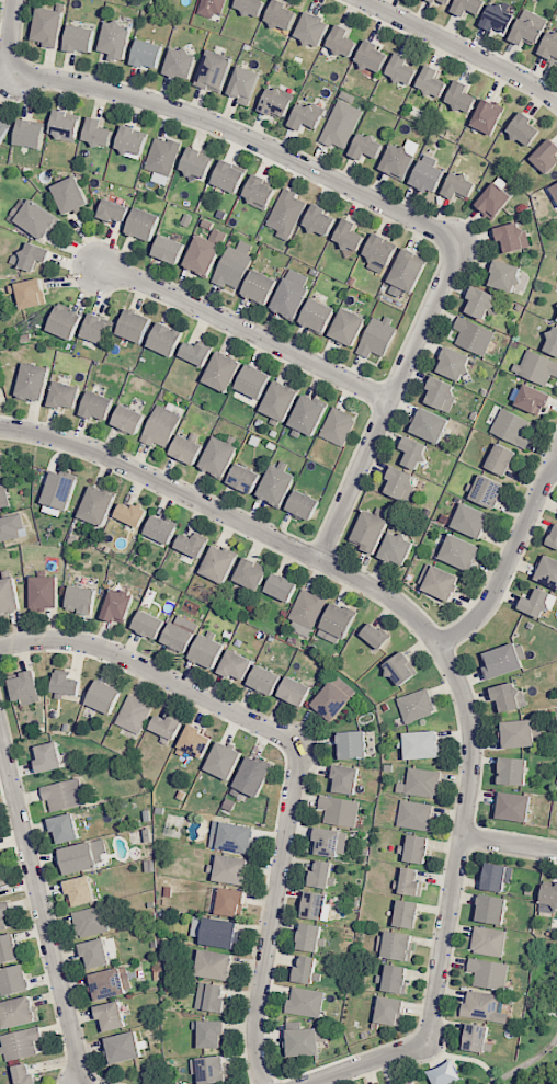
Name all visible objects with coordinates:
building: (437, 0)
building: (451, 1)
building: (252, 5)
building: (212, 7)
building: (469, 7)
building: (284, 14)
building: (499, 19)
building: (50, 26)
building: (316, 28)
building: (527, 33)
road: (9, 36)
building: (82, 38)
building: (120, 38)
building: (344, 41)
building: (549, 45)
road: (459, 47)
building: (150, 54)
building: (375, 56)
building: (183, 62)
building: (403, 68)
building: (217, 70)
building: (434, 82)
building: (245, 84)
building: (464, 96)
building: (278, 102)
building: (309, 115)
building: (487, 116)
building: (67, 124)
building: (342, 124)
building: (526, 129)
building: (4, 130)
building: (101, 133)
building: (32, 134)
road: (241, 135)
building: (133, 140)
building: (368, 146)
building: (164, 155)
building: (545, 156)
building: (401, 161)
building: (198, 162)
building: (229, 176)
building: (430, 176)
building: (462, 185)
building: (554, 190)
building: (262, 192)
building: (72, 195)
building: (493, 201)
building: (114, 212)
building: (286, 213)
building: (37, 219)
building: (322, 219)
building: (145, 226)
building: (351, 236)
building: (515, 238)
building: (170, 249)
building: (382, 250)
building: (207, 252)
building: (36, 259)
building: (234, 267)
building: (409, 269)
building: (508, 275)
building: (262, 287)
building: (31, 294)
building: (293, 295)
building: (482, 300)
building: (319, 315)
building: (66, 324)
building: (135, 327)
building: (350, 327)
building: (99, 330)
road: (247, 331)
building: (378, 336)
building: (475, 336)
building: (167, 340)
building: (554, 341)
building: (197, 353)
building: (456, 364)
building: (537, 366)
building: (223, 373)
building: (34, 383)
building: (253, 383)
building: (444, 392)
building: (66, 395)
building: (532, 398)
road: (390, 402)
building: (280, 403)
building: (98, 407)
building: (308, 417)
building: (132, 420)
building: (340, 426)
building: (433, 426)
building: (512, 427)
building: (161, 429)
building: (187, 449)
building: (417, 452)
building: (219, 458)
building: (502, 460)
building: (1, 461)
building: (0, 476)
building: (246, 478)
building: (402, 483)
building: (277, 486)
building: (62, 491)
building: (489, 492)
building: (3, 499)
building: (304, 505)
building: (100, 506)
building: (134, 514)
building: (473, 522)
building: (11, 527)
building: (162, 530)
building: (371, 530)
building: (553, 538)
building: (194, 545)
building: (398, 550)
building: (462, 552)
road: (509, 558)
building: (220, 564)
building: (549, 571)
building: (251, 574)
building: (443, 583)
building: (283, 587)
building: (45, 593)
building: (9, 597)
building: (83, 601)
building: (538, 603)
building: (117, 605)
building: (308, 612)
road: (408, 613)
building: (341, 621)
building: (149, 625)
building: (181, 634)
building: (378, 637)
building: (208, 652)
building: (505, 661)
building: (236, 665)
building: (402, 669)
building: (266, 680)
building: (67, 684)
building: (27, 686)
building: (296, 691)
building: (104, 696)
building: (511, 697)
building: (336, 699)
building: (419, 707)
building: (135, 714)
building: (169, 728)
building: (523, 733)
building: (195, 741)
building: (422, 744)
building: (354, 745)
road: (298, 755)
building: (49, 758)
building: (227, 761)
building: (516, 771)
building: (255, 777)
building: (348, 778)
building: (424, 783)
building: (65, 795)
building: (515, 806)
building: (342, 810)
building: (417, 815)
building: (68, 828)
building: (235, 836)
building: (329, 842)
road: (509, 843)
building: (417, 848)
building: (80, 859)
building: (0, 864)
building: (231, 869)
building: (323, 875)
building: (498, 877)
building: (1, 879)
building: (410, 882)
building: (83, 891)
building: (0, 897)
building: (549, 898)
building: (232, 902)
building: (317, 905)
building: (495, 909)
road: (42, 912)
building: (408, 914)
building: (4, 916)
building: (92, 922)
building: (221, 934)
building: (314, 938)
building: (490, 940)
building: (399, 947)
building: (10, 949)
building: (99, 954)
building: (216, 965)
building: (308, 972)
building: (491, 973)
building: (395, 979)
building: (16, 981)
building: (111, 984)
park: (542, 993)
building: (212, 999)
building: (307, 1003)
building: (485, 1008)
building: (391, 1009)
building: (20, 1013)
building: (114, 1017)
building: (212, 1034)
building: (479, 1038)
building: (307, 1041)
building: (22, 1045)
building: (127, 1048)
road: (464, 1058)
road: (526, 1062)
road: (367, 1063)
building: (215, 1071)
building: (444, 1074)
building: (27, 1075)
building: (410, 1082)
building: (417, 1083)

